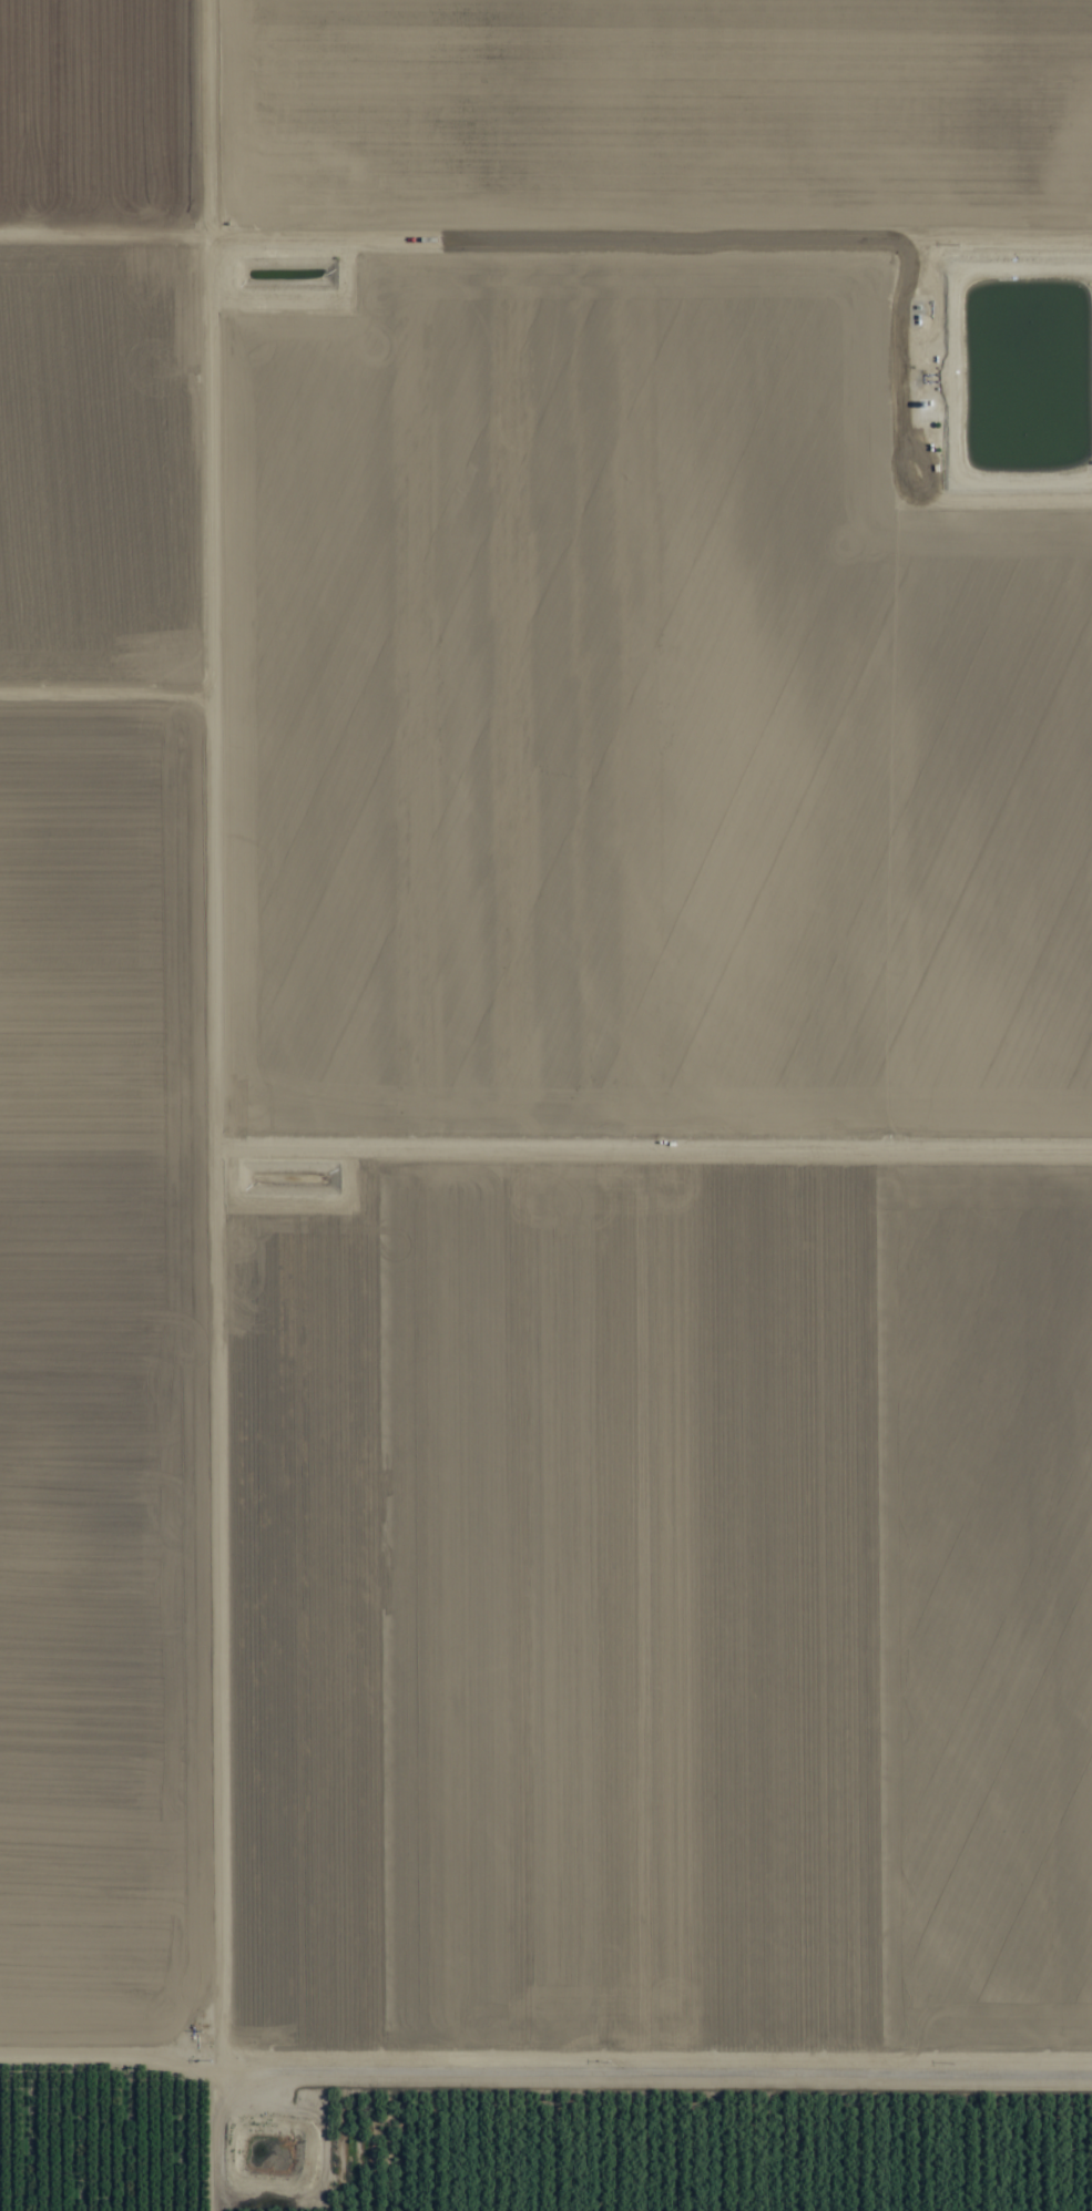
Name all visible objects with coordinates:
road: (635, 219)
road: (176, 637)
crop: (545, 1105)
road: (545, 2062)

